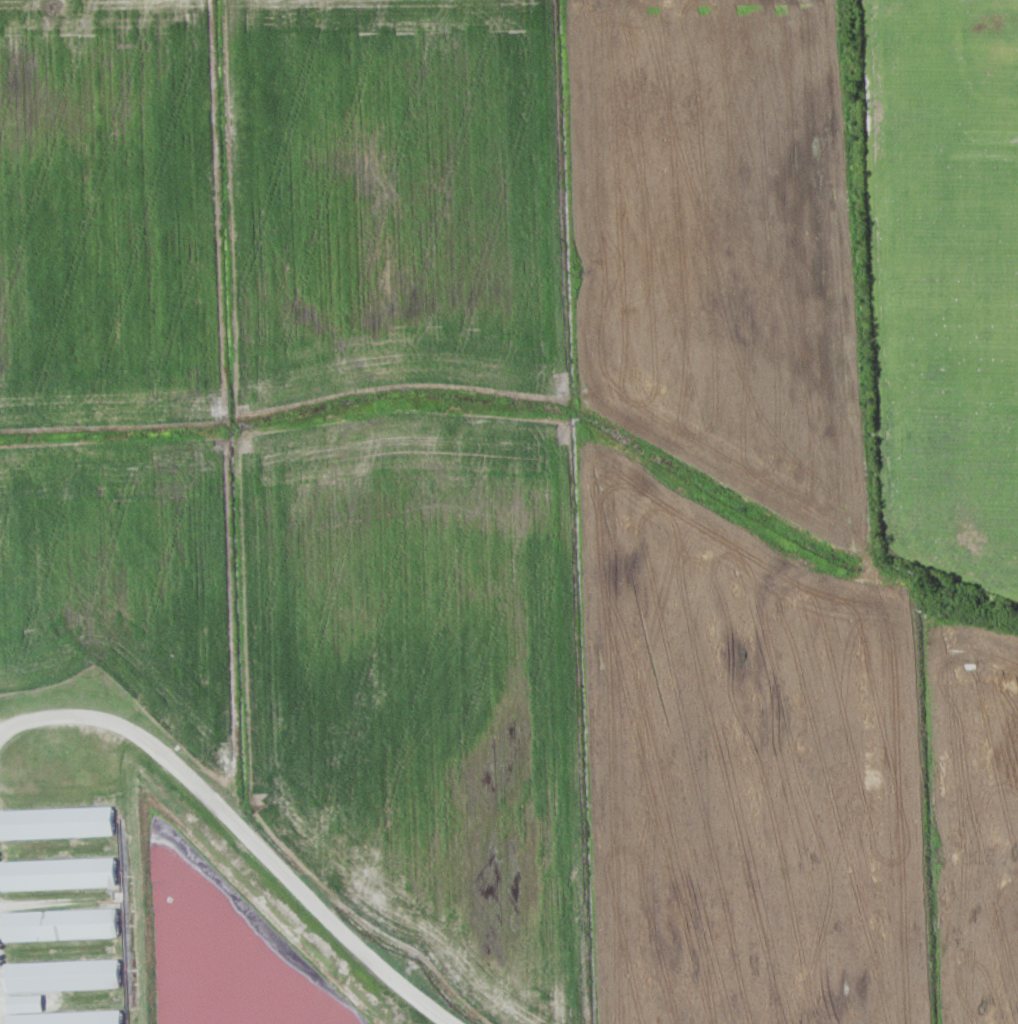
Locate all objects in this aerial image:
building: (54, 821)
road: (241, 834)
building: (56, 871)
building: (57, 920)
building: (58, 972)
building: (21, 1001)
building: (64, 1017)

